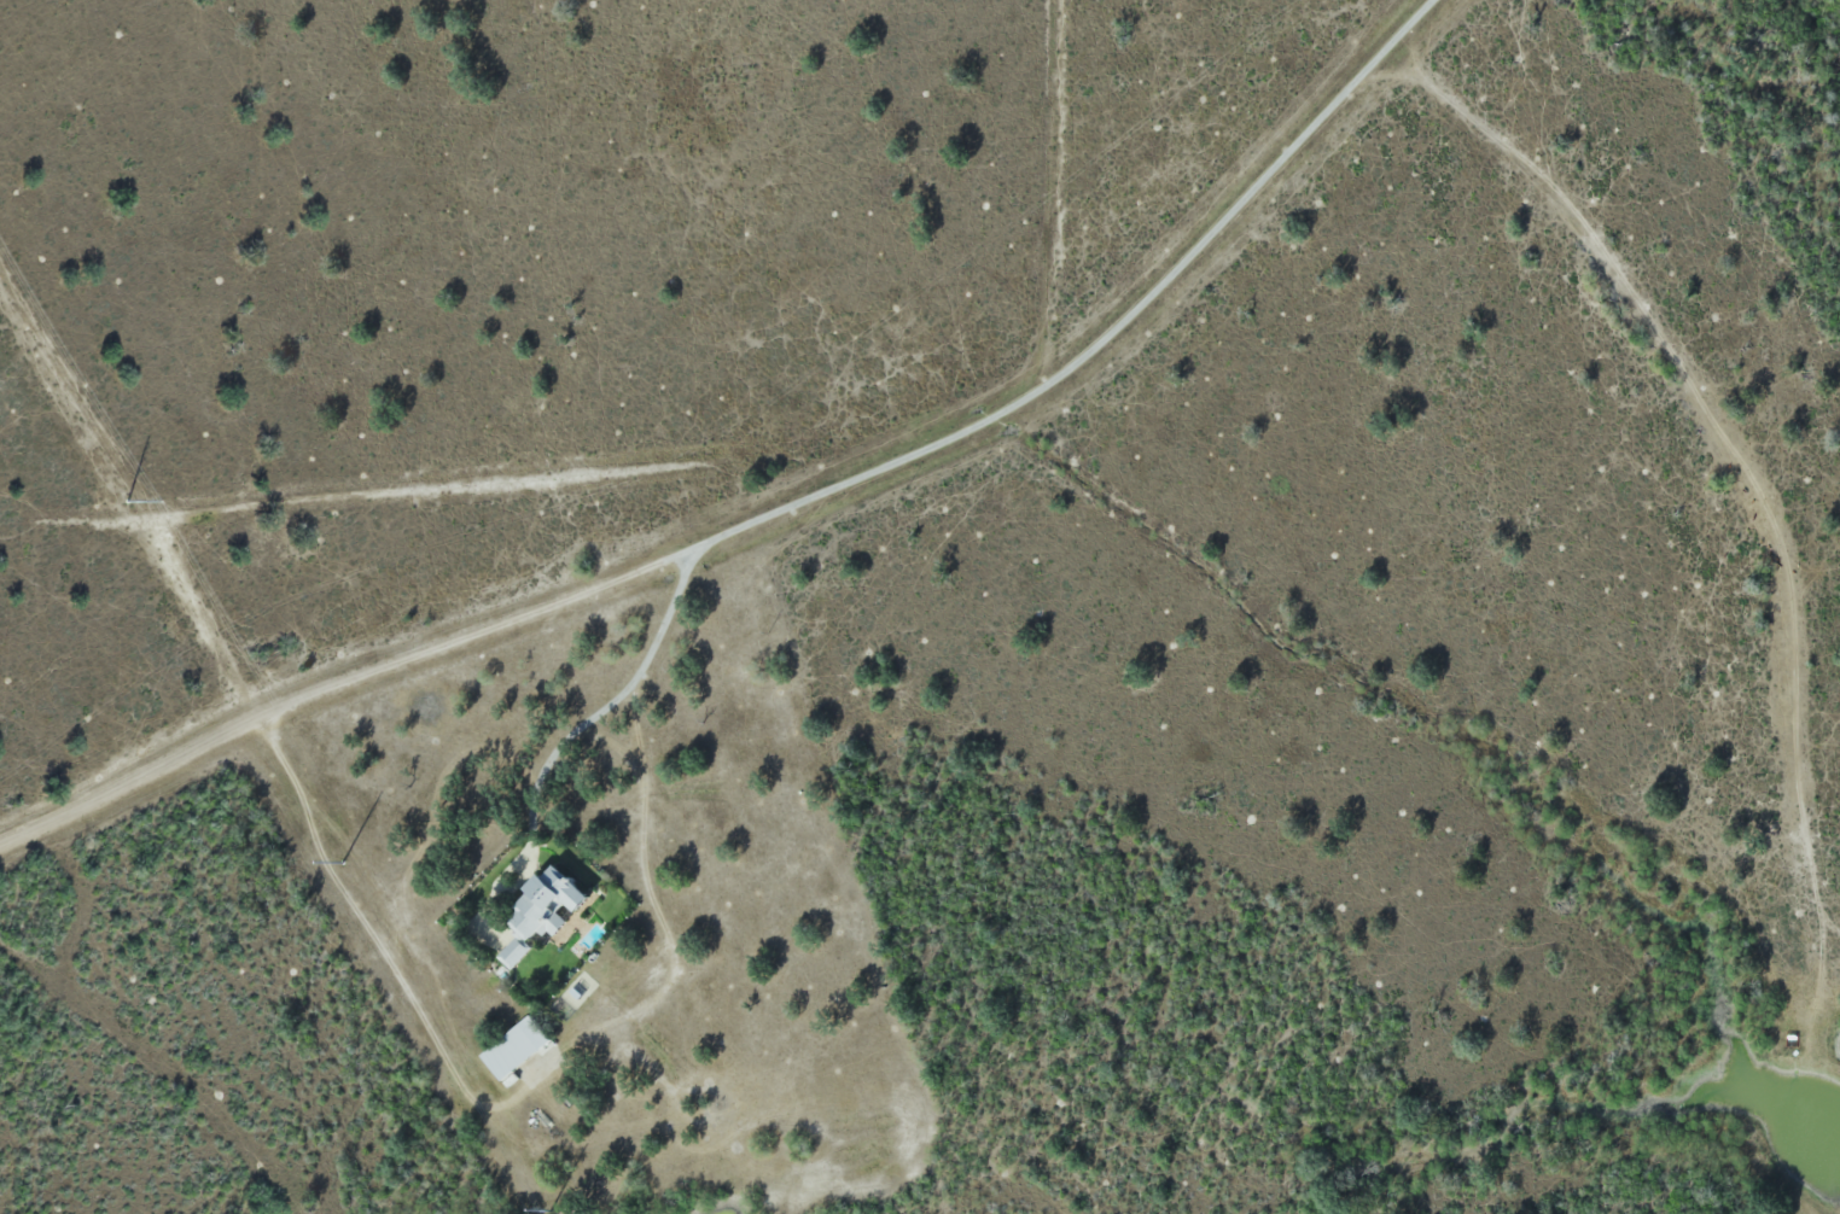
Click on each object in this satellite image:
power tower: (127, 500)
road: (775, 504)
power tower: (340, 860)
building: (554, 903)
building: (518, 952)
building: (518, 1047)
power tower: (538, 1212)

